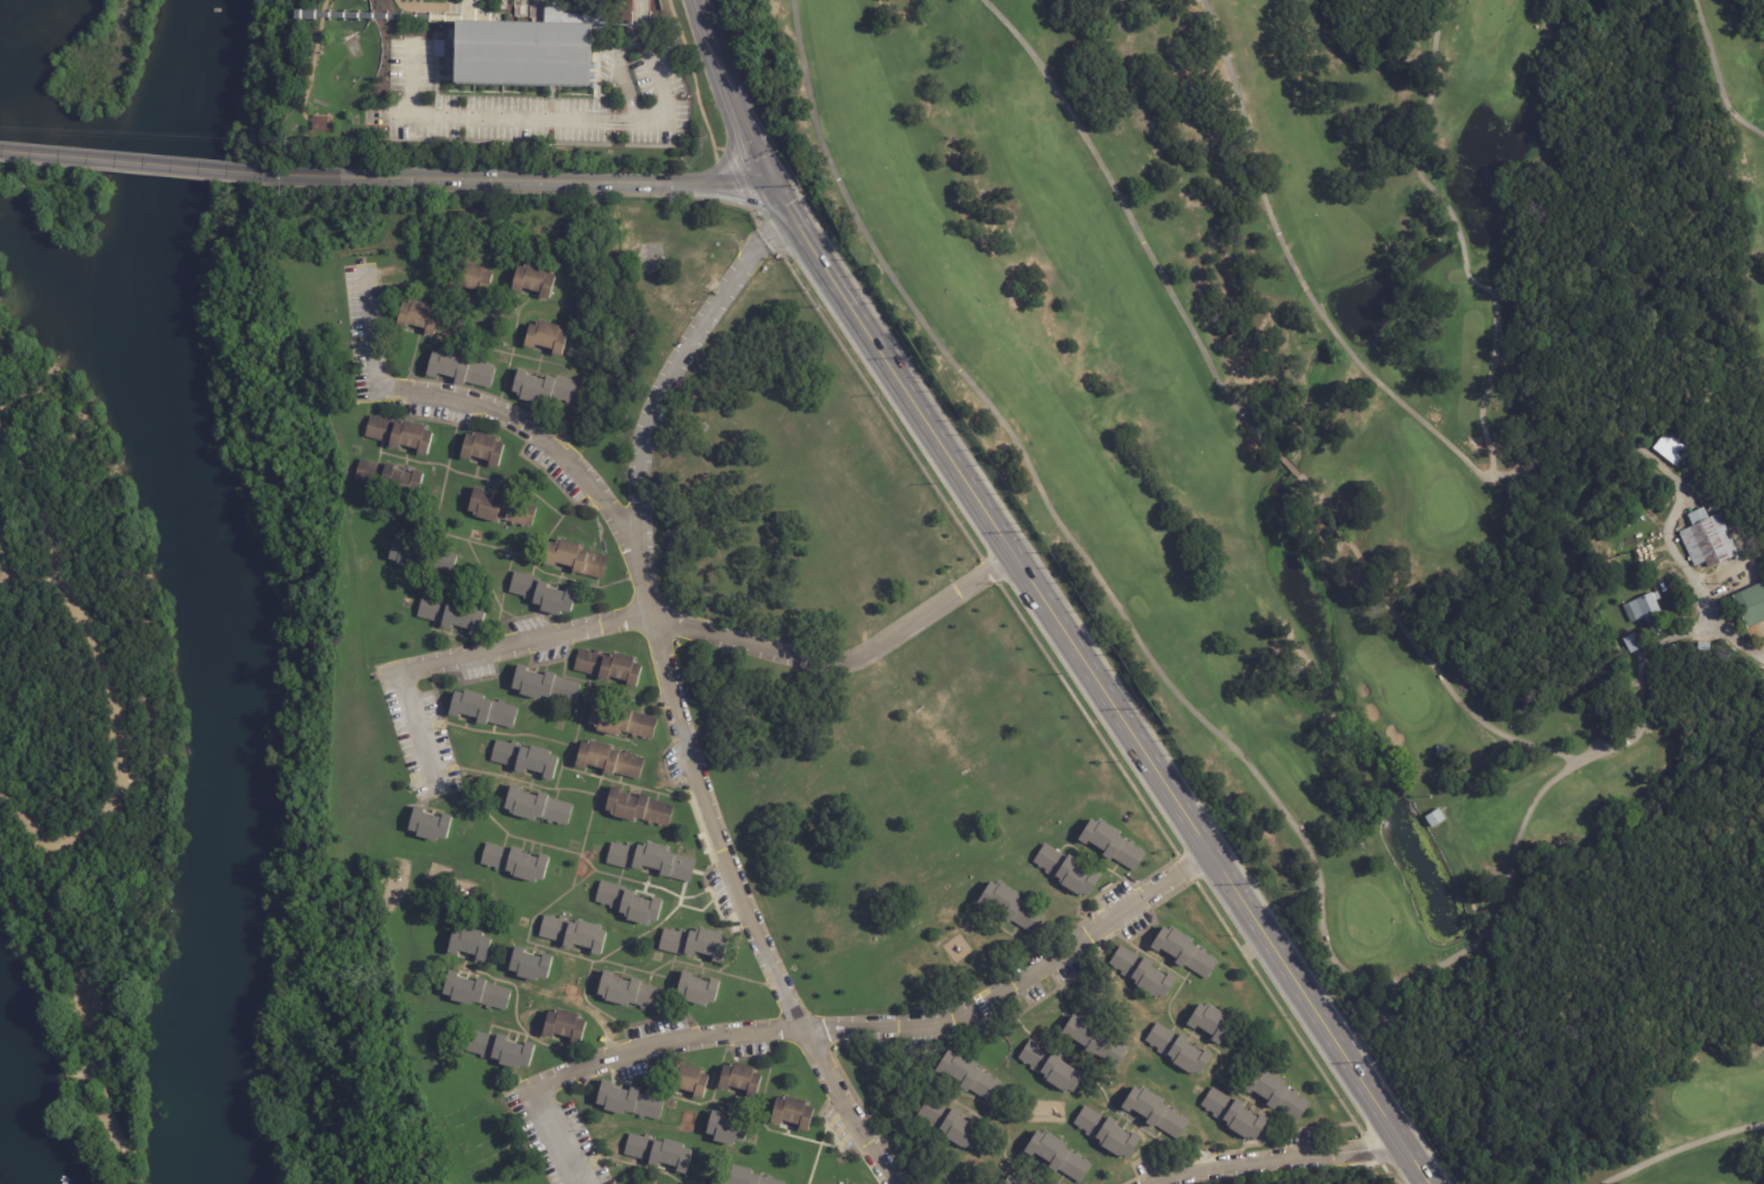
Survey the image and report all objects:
park: (1490, 15)
building: (438, 49)
building: (521, 54)
road: (621, 74)
road: (1715, 76)
road: (733, 89)
road: (568, 119)
road: (728, 137)
road: (138, 163)
road: (289, 174)
road: (536, 175)
traffic signals: (772, 177)
road: (739, 193)
park: (60, 194)
road: (768, 238)
building: (471, 277)
building: (534, 280)
park: (7, 289)
building: (430, 322)
road: (367, 328)
building: (546, 339)
road: (890, 367)
building: (461, 371)
building: (546, 389)
road: (1244, 418)
road: (531, 428)
road: (650, 431)
building: (400, 436)
building: (1676, 444)
building: (483, 447)
road: (1464, 459)
building: (389, 480)
park: (1383, 483)
park: (1444, 503)
building: (500, 509)
building: (1706, 538)
road: (14, 555)
building: (423, 557)
building: (576, 558)
river: (206, 585)
building: (543, 593)
building: (1750, 603)
building: (1646, 610)
building: (452, 616)
road: (537, 637)
building: (1634, 643)
road: (847, 662)
building: (609, 669)
road: (107, 685)
building: (545, 687)
park: (1405, 695)
building: (482, 710)
road: (415, 721)
building: (623, 722)
park: (83, 744)
road: (1236, 751)
building: (1445, 752)
building: (609, 759)
building: (526, 760)
road: (696, 773)
building: (538, 808)
building: (638, 809)
building: (1435, 819)
building: (430, 827)
building: (1113, 844)
road: (1208, 846)
building: (651, 859)
building: (515, 864)
building: (1066, 871)
building: (628, 904)
building: (1013, 907)
park: (1366, 915)
building: (574, 935)
building: (470, 941)
building: (694, 945)
building: (1181, 948)
building: (531, 966)
building: (1143, 972)
road: (777, 973)
road: (1021, 981)
building: (698, 990)
building: (476, 992)
building: (630, 994)
road: (93, 1013)
building: (1212, 1022)
building: (564, 1026)
building: (1094, 1040)
road: (662, 1045)
building: (1180, 1050)
building: (500, 1051)
building: (1052, 1067)
building: (970, 1076)
building: (740, 1078)
building: (688, 1079)
building: (1277, 1094)
park: (1696, 1098)
building: (630, 1102)
road: (845, 1107)
building: (794, 1110)
building: (1156, 1113)
building: (1236, 1115)
building: (951, 1125)
building: (727, 1127)
building: (1108, 1133)
road: (552, 1136)
road: (1681, 1147)
building: (658, 1153)
building: (1059, 1157)
road: (1280, 1161)
road: (1414, 1161)
building: (744, 1176)
building: (1011, 1180)

